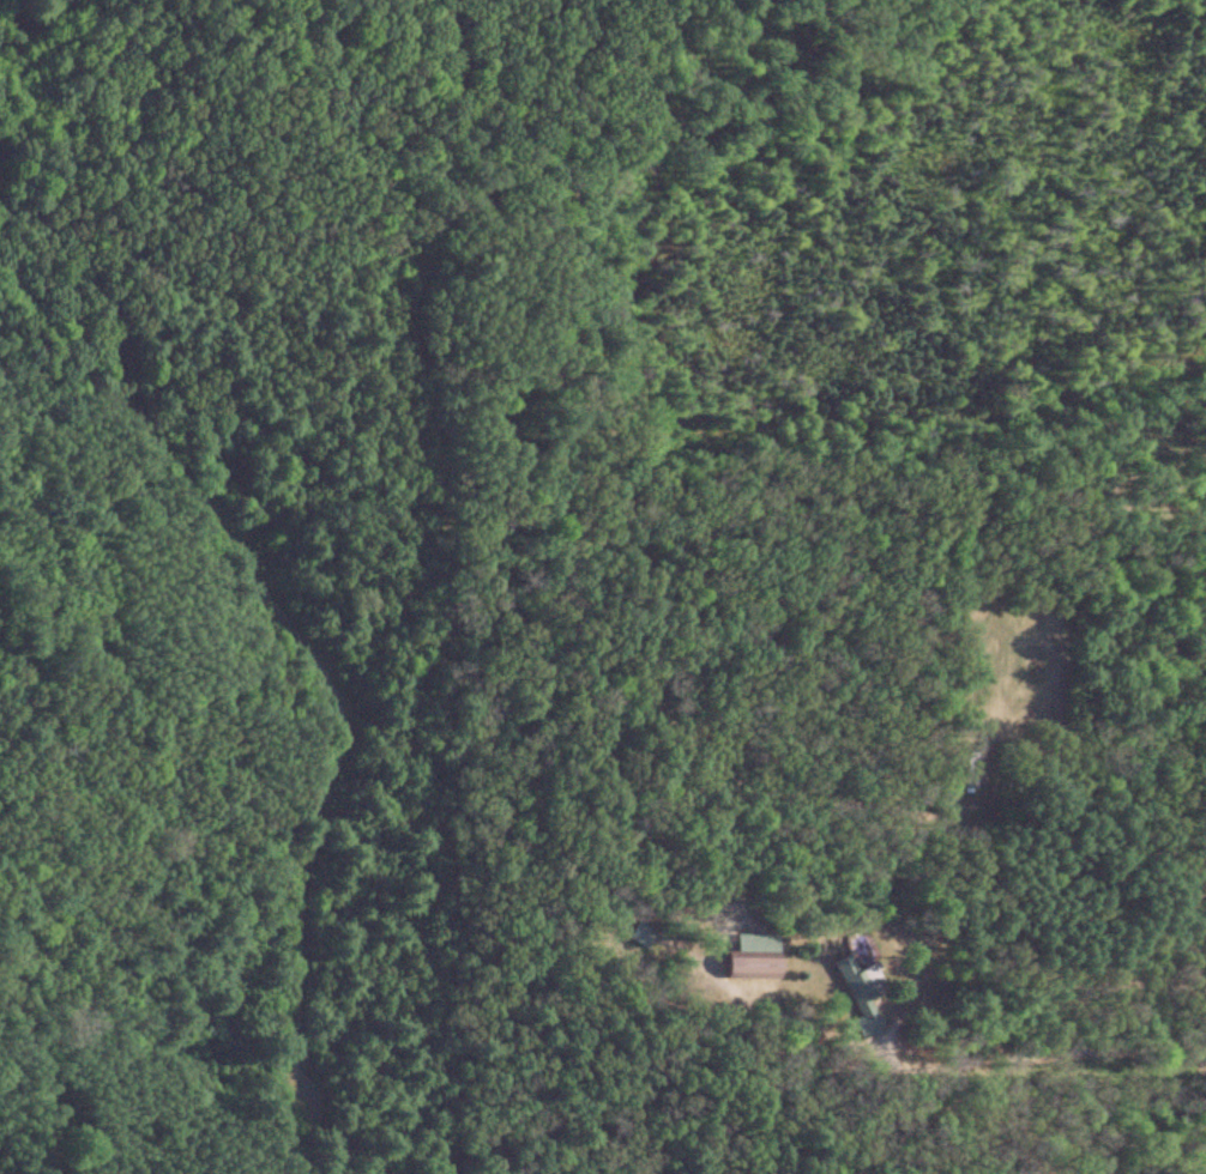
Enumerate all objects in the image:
building: (960, 770)
building: (743, 958)
building: (838, 973)
building: (856, 1028)
road: (1063, 1047)
road: (1183, 1114)

